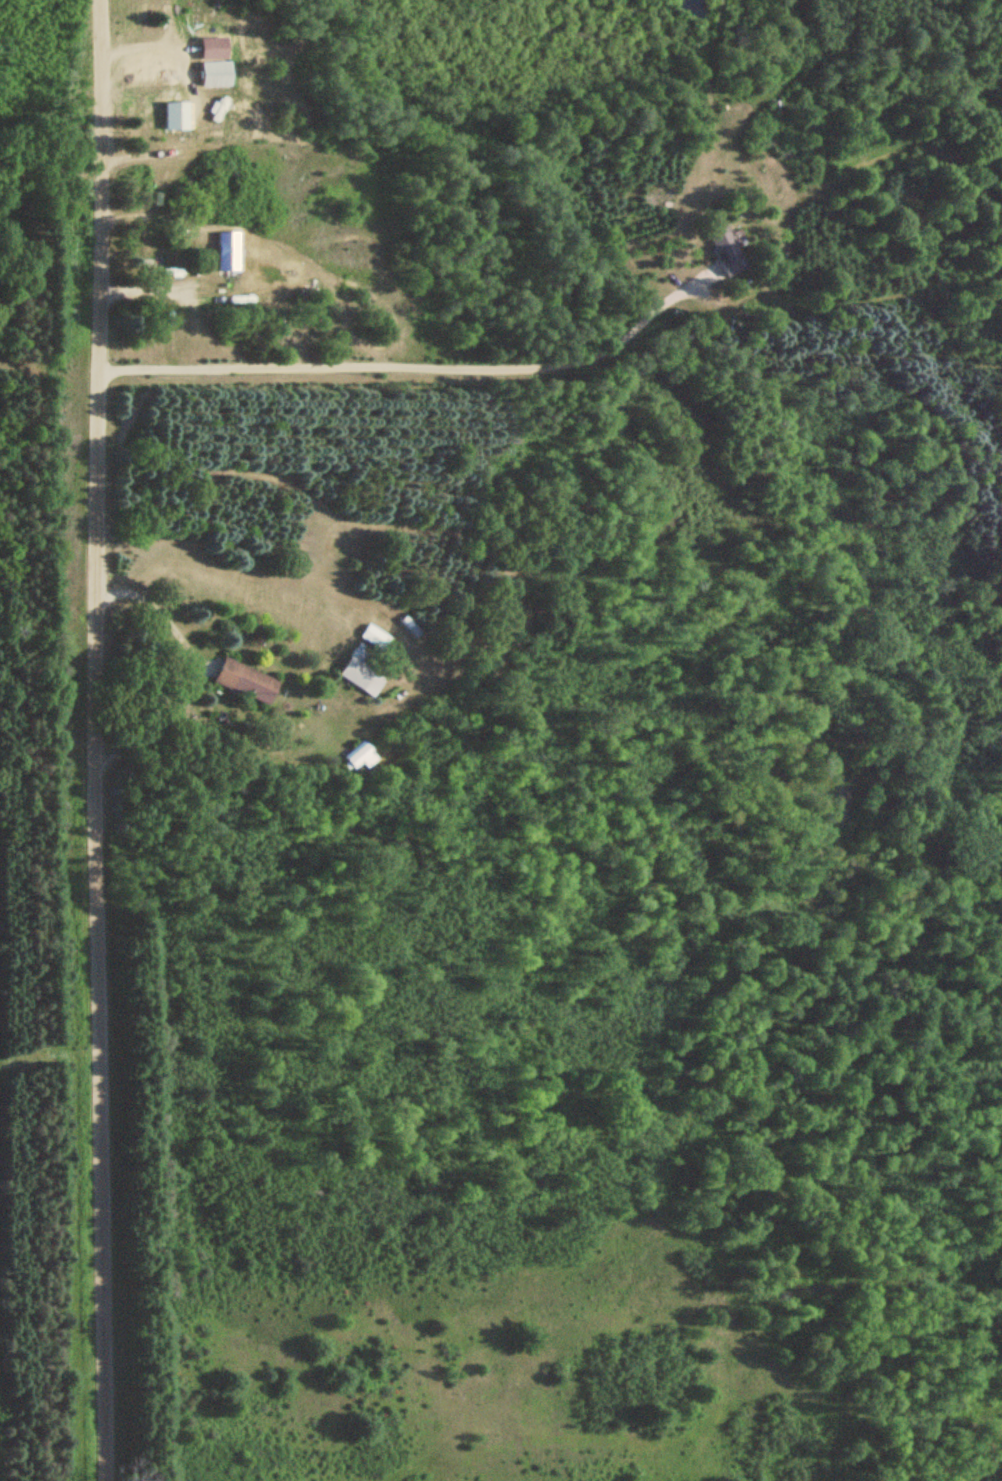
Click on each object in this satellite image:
building: (212, 74)
building: (174, 116)
building: (224, 251)
building: (723, 251)
building: (407, 626)
building: (360, 673)
building: (242, 680)
road: (108, 740)

